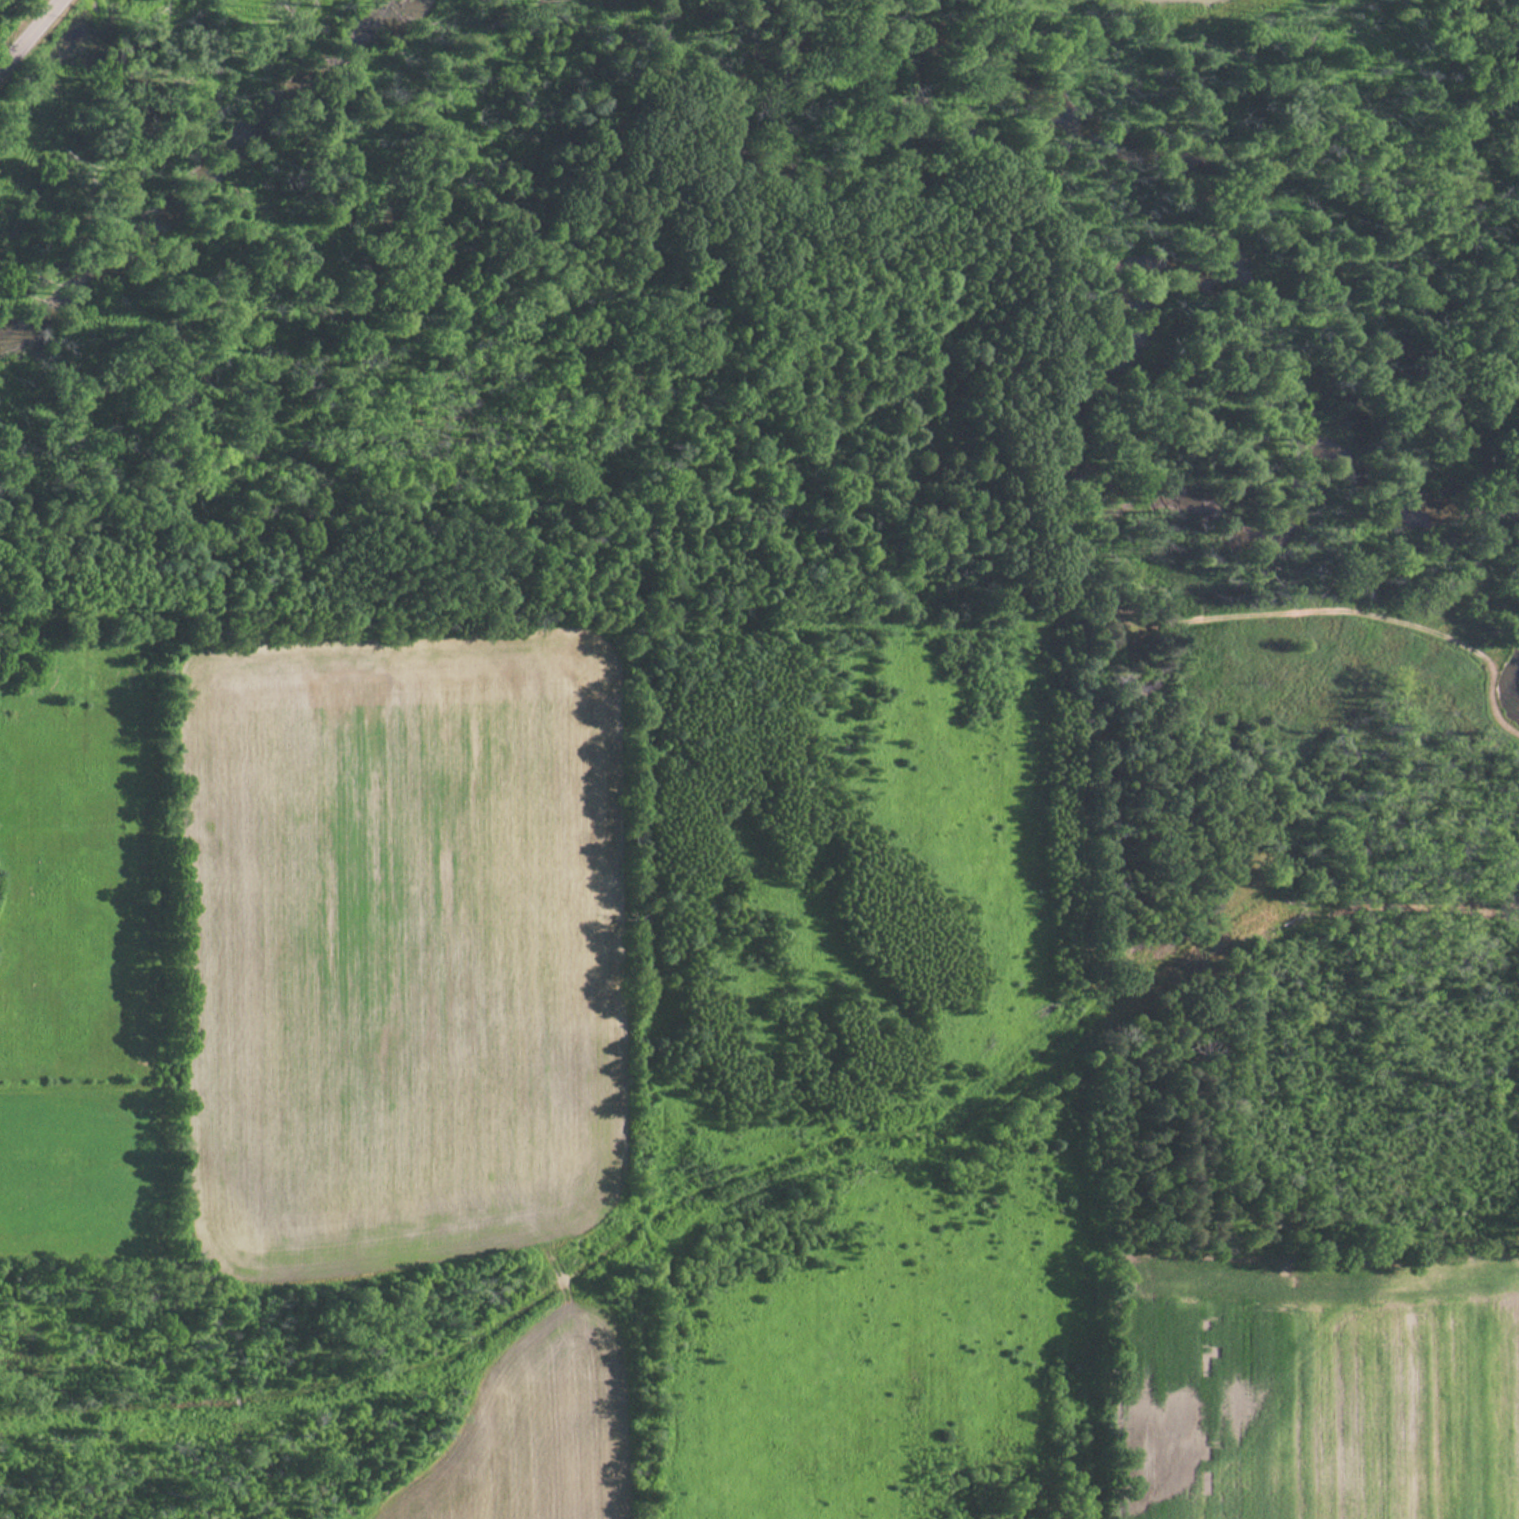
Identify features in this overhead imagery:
road: (24, 29)
river: (210, 172)
river: (1232, 248)

